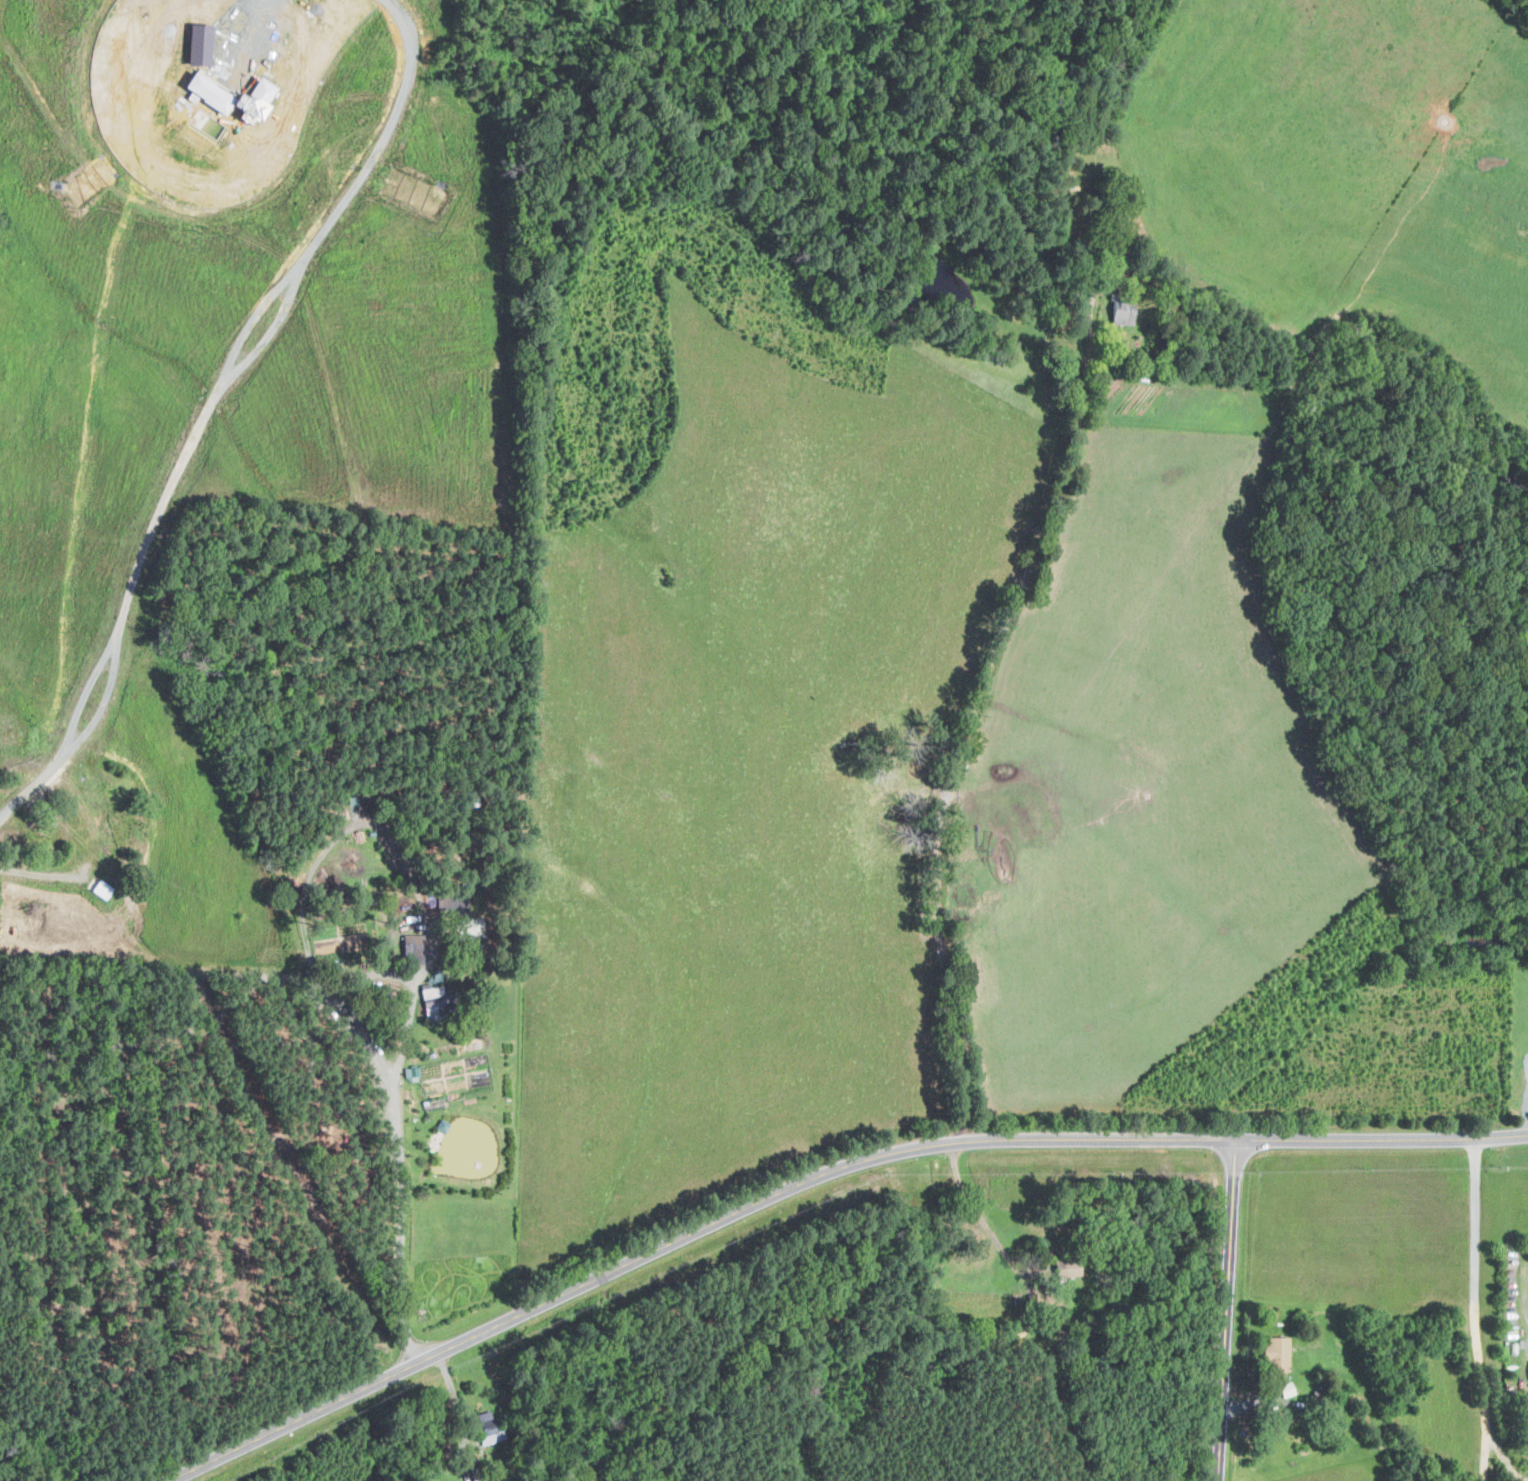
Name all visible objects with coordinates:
building: (195, 74)
building: (1128, 311)
road: (206, 402)
road: (969, 717)
building: (350, 807)
building: (412, 945)
building: (437, 1002)
building: (412, 1082)
building: (441, 1123)
road: (401, 1178)
road: (821, 1181)
road: (980, 1218)
building: (1067, 1267)
road: (1227, 1311)
road: (1477, 1311)
building: (1279, 1353)

